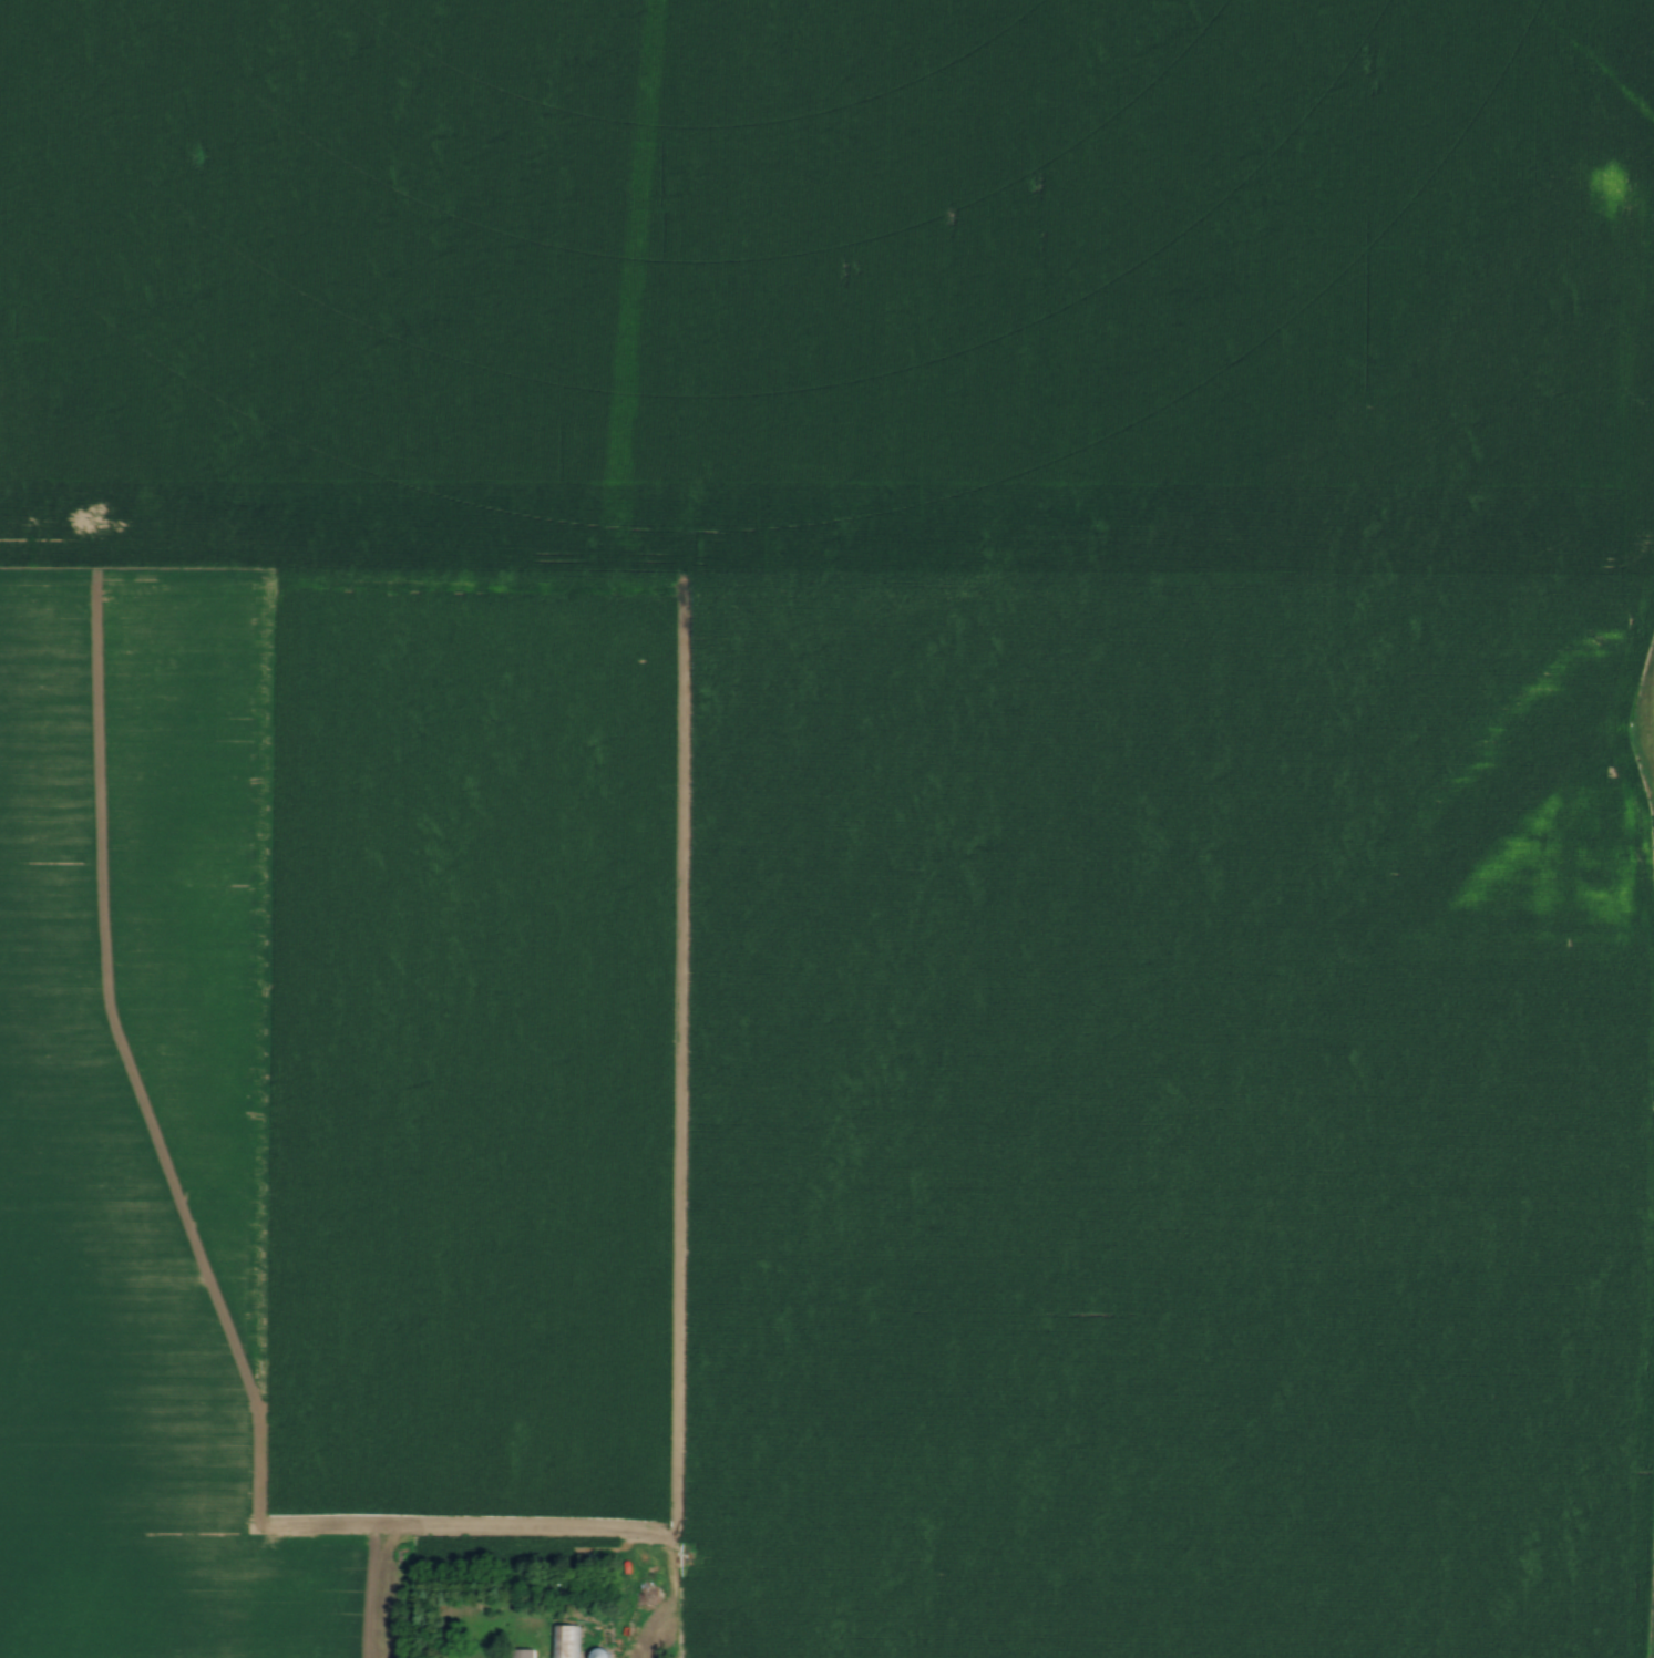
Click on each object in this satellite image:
building: (564, 1640)
building: (524, 1652)
building: (598, 1654)

